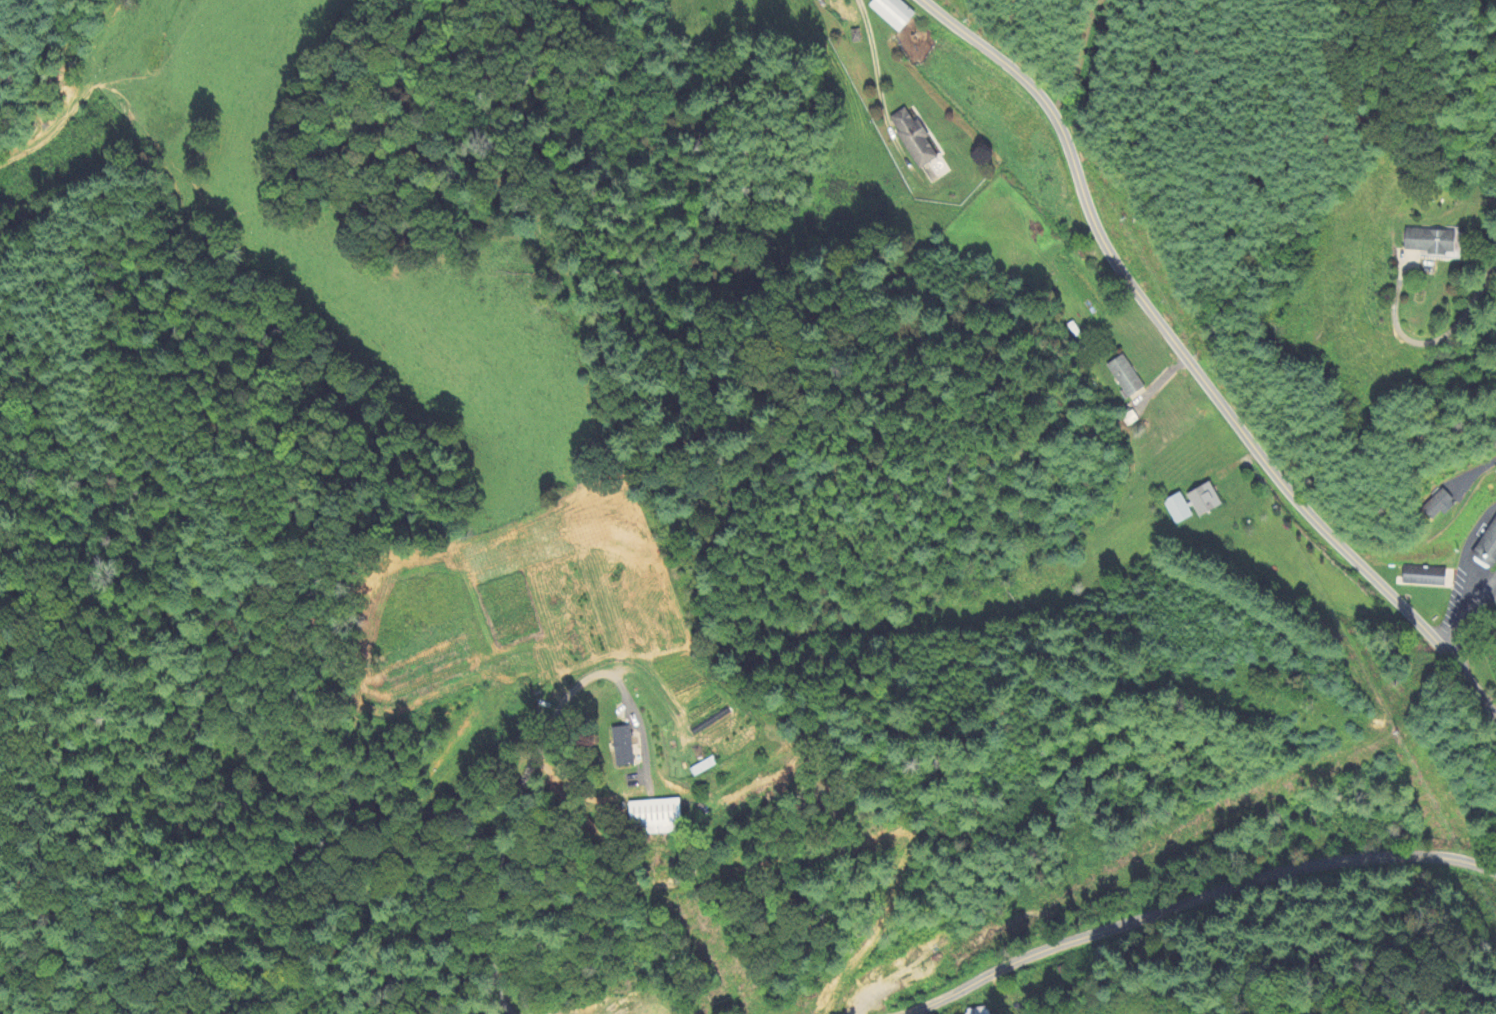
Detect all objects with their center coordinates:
building: (893, 13)
road: (873, 54)
road: (1080, 58)
building: (913, 138)
building: (934, 169)
building: (1431, 241)
road: (1168, 337)
road: (1428, 343)
building: (1125, 376)
road: (1473, 473)
building: (1192, 504)
building: (1439, 505)
building: (1486, 544)
building: (1424, 576)
road: (1468, 616)
road: (1474, 688)
building: (622, 746)
building: (704, 767)
building: (654, 817)
road: (1192, 902)

